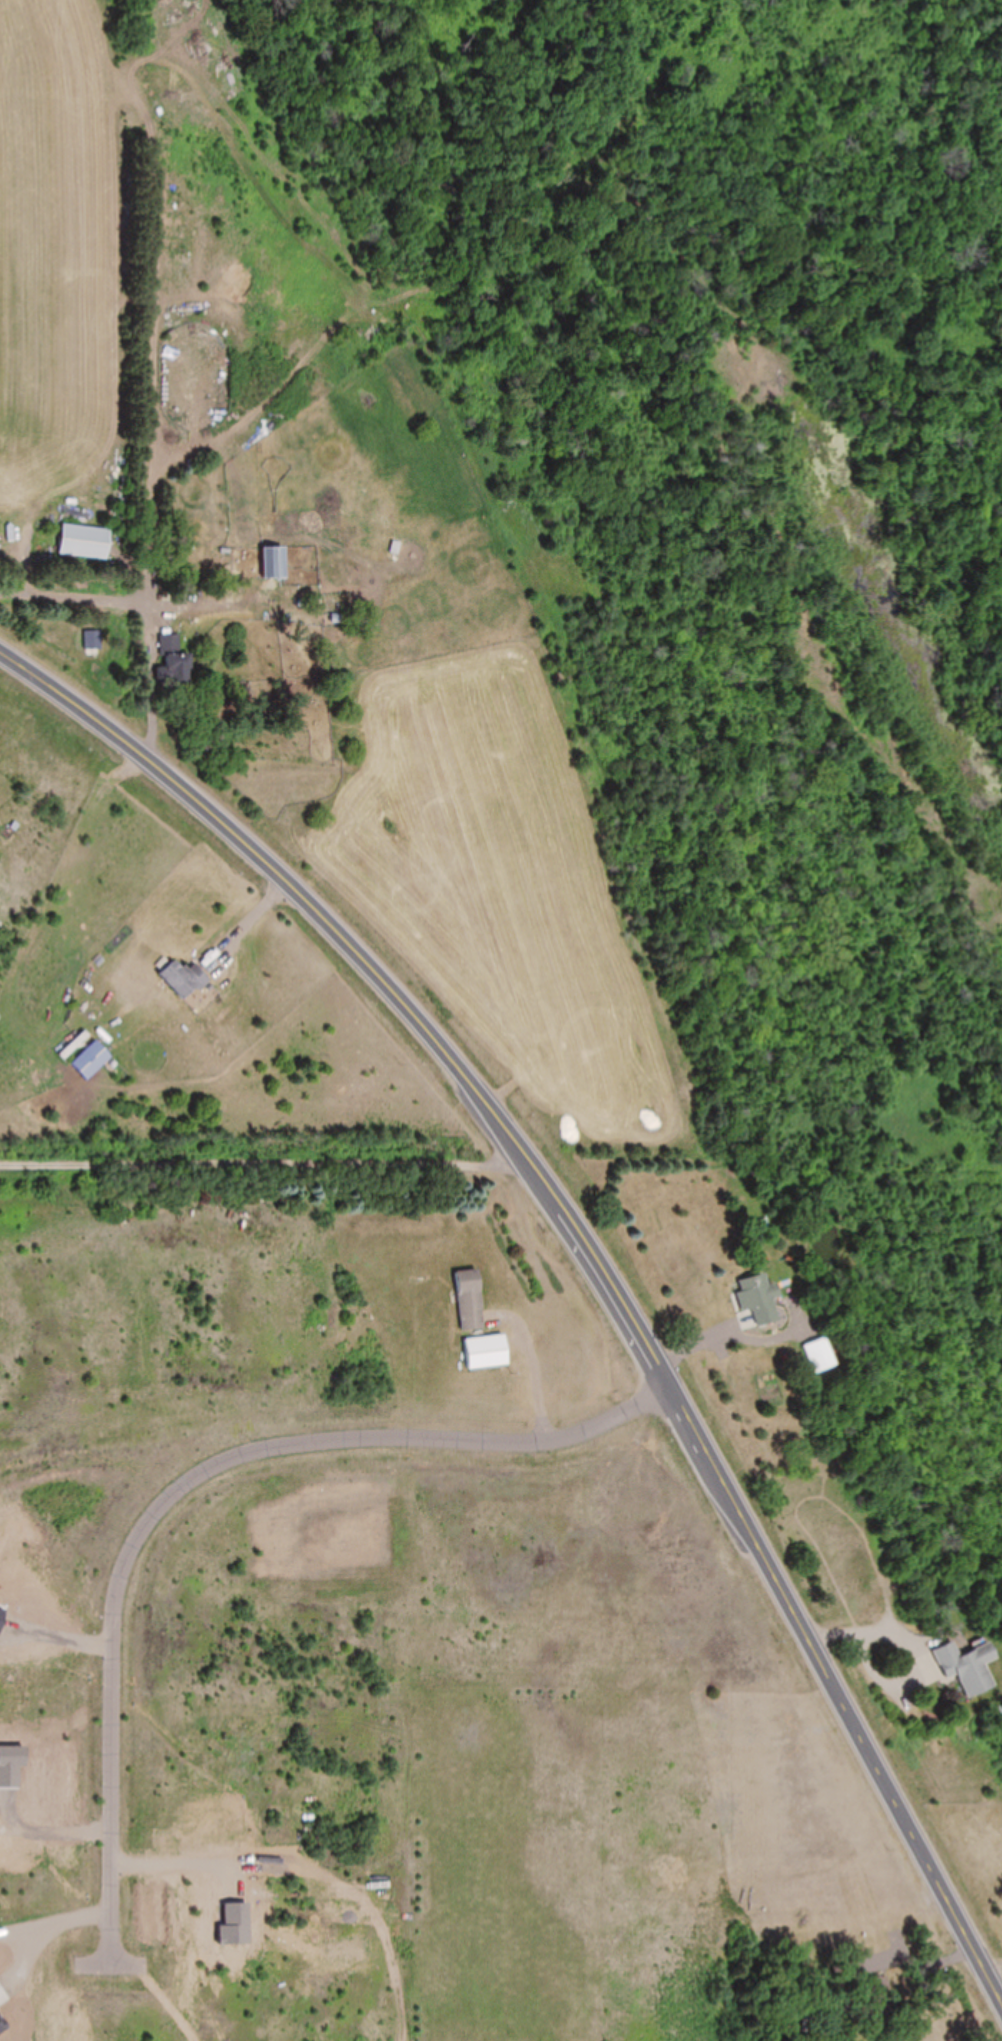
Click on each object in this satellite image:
road: (481, 264)
park: (911, 389)
building: (84, 541)
building: (273, 563)
building: (173, 664)
building: (183, 980)
building: (91, 1061)
road: (263, 1157)
road: (588, 1258)
building: (760, 1298)
building: (470, 1300)
building: (486, 1352)
building: (820, 1355)
road: (182, 1469)
building: (969, 1667)

